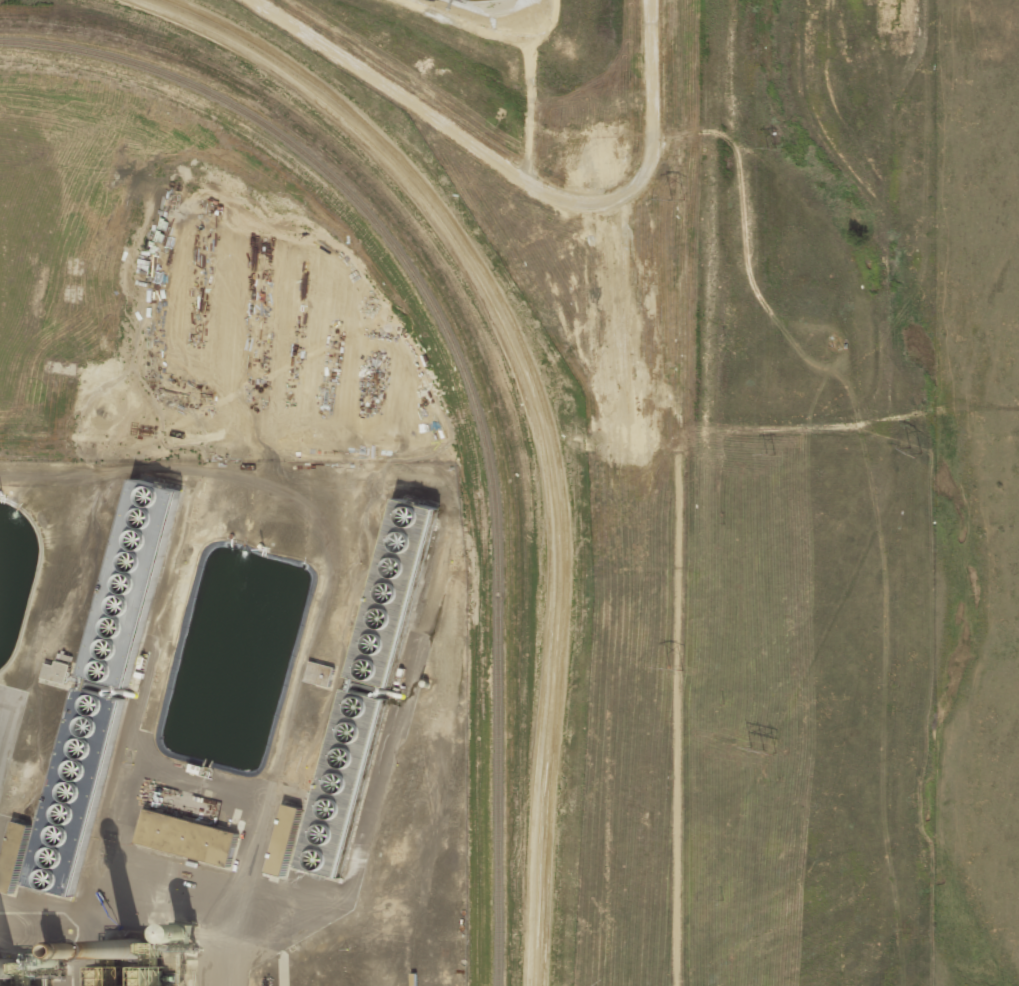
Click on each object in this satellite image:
power tower: (760, 151)
power tower: (671, 200)
railway: (469, 375)
power tower: (917, 451)
power tower: (764, 454)
power plant: (469, 493)
building: (58, 668)
power tower: (669, 668)
building: (319, 673)
building: (362, 685)
building: (100, 686)
power tower: (757, 750)
building: (195, 839)
building: (279, 840)
road: (153, 916)
chimney: (136, 945)
chimney: (10, 965)

